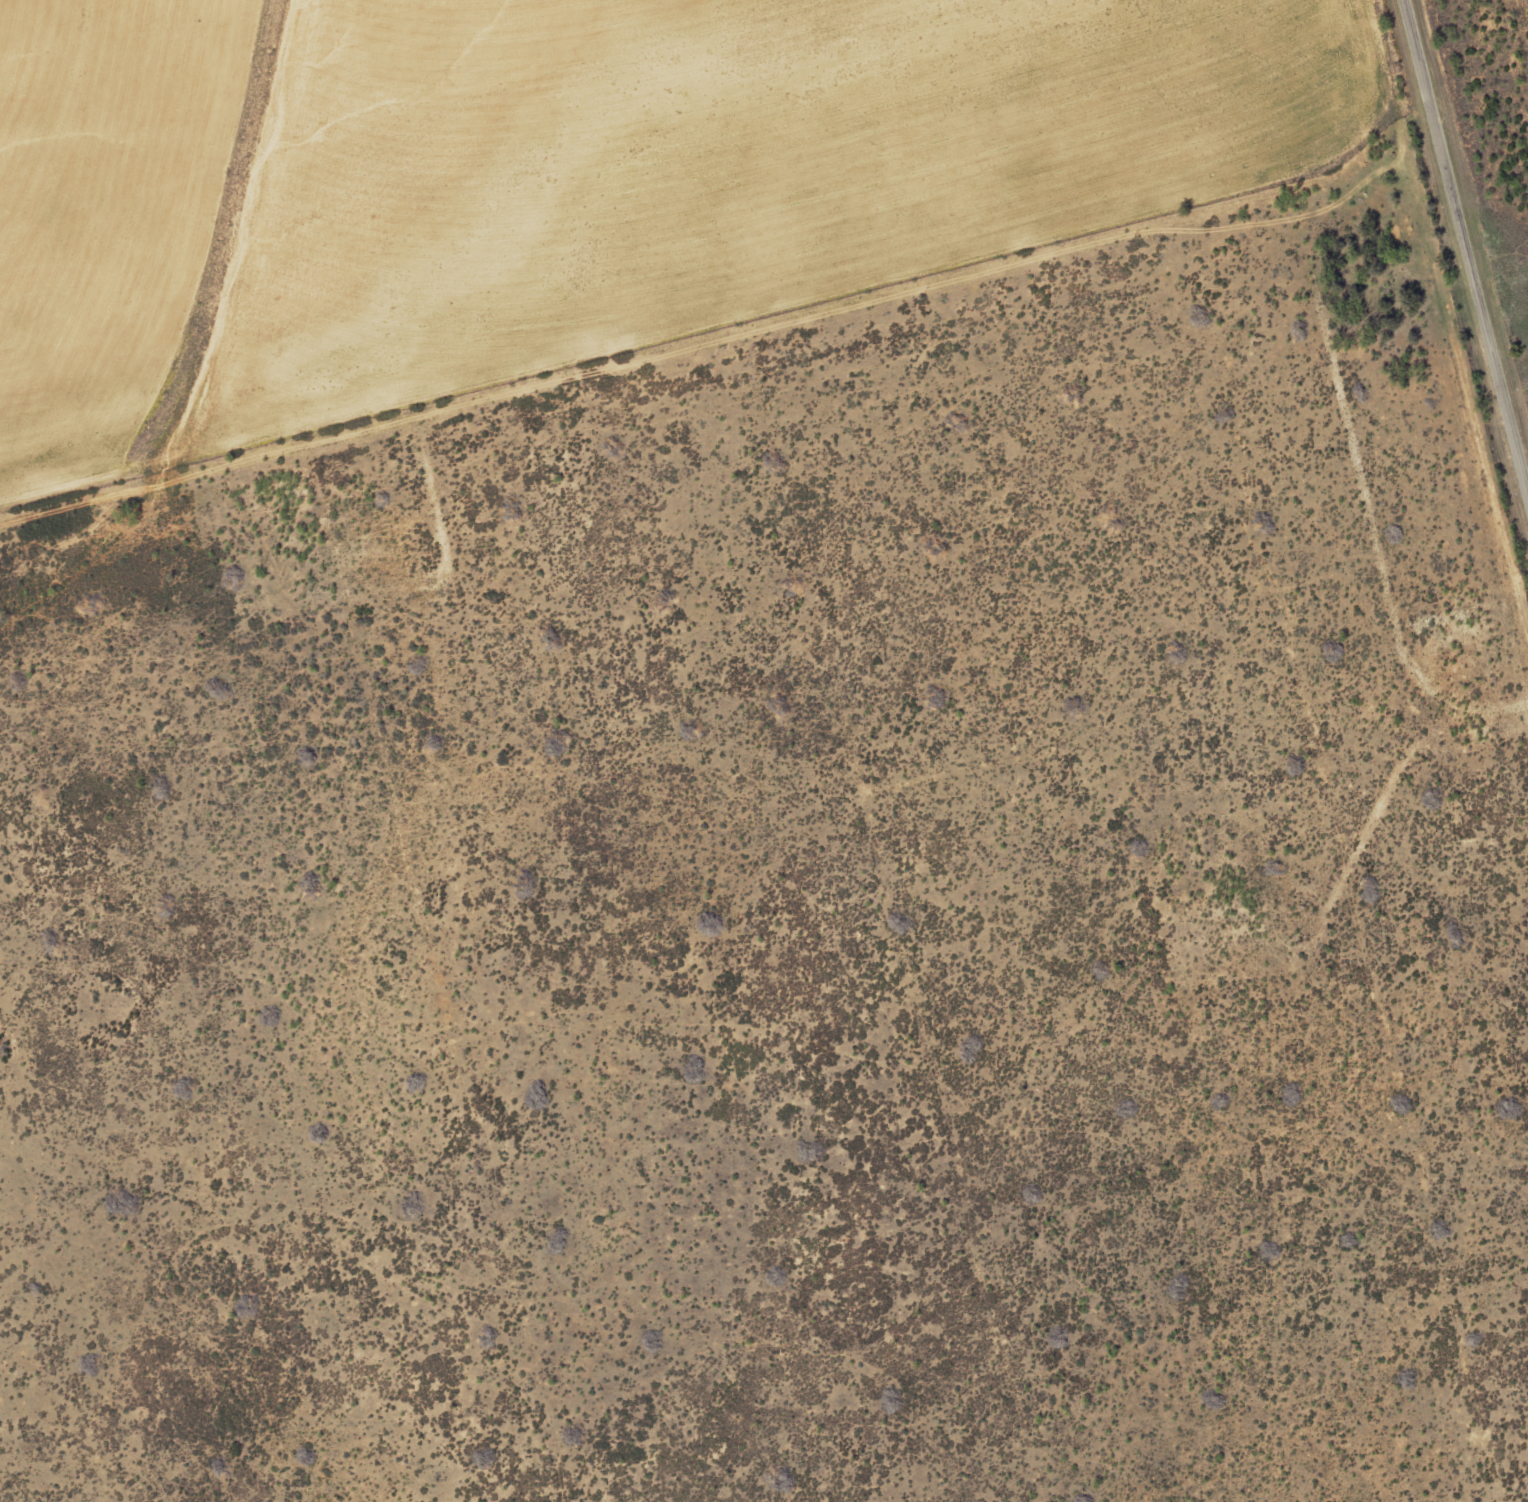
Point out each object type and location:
road: (1460, 259)

